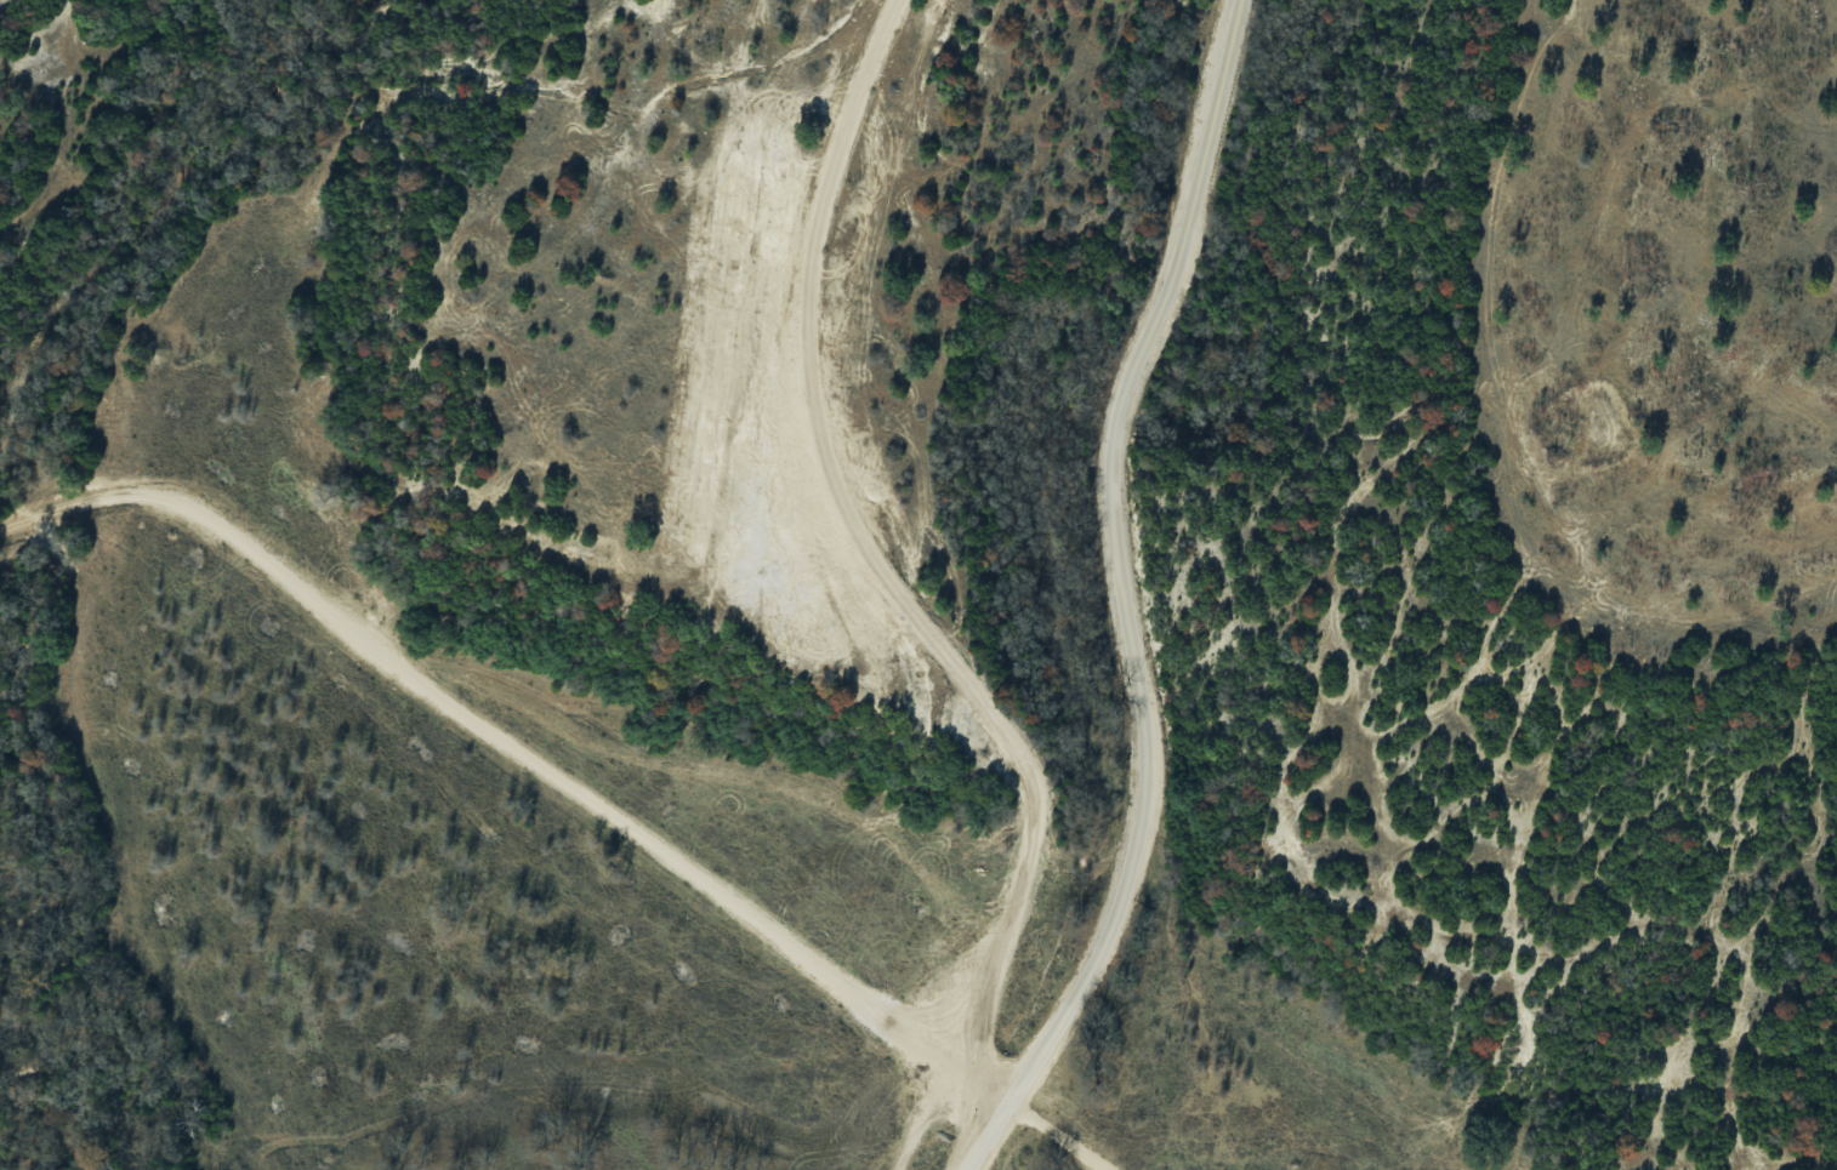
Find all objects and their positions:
road: (889, 578)
road: (1124, 599)
road: (484, 732)
road: (925, 1117)
road: (1057, 1135)

